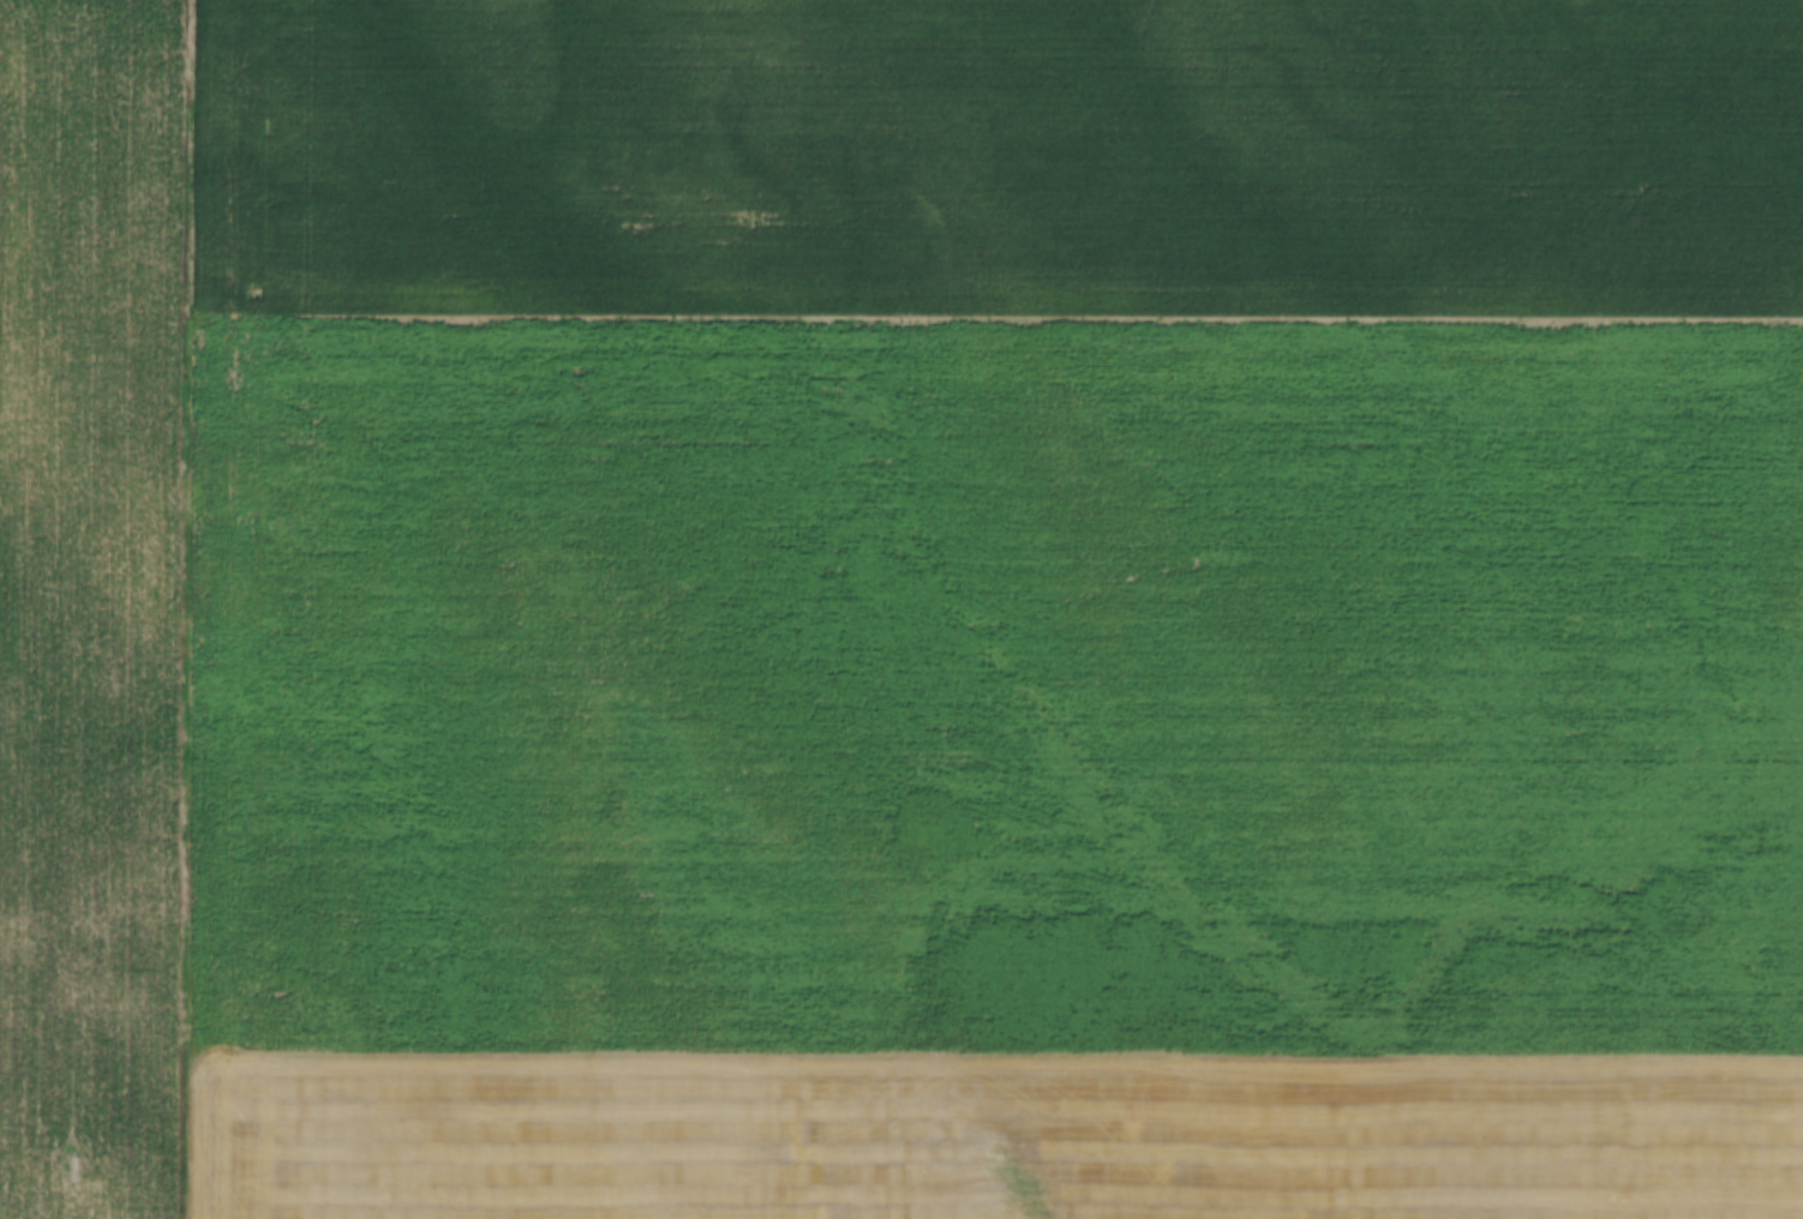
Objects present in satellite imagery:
road: (1556, 973)

